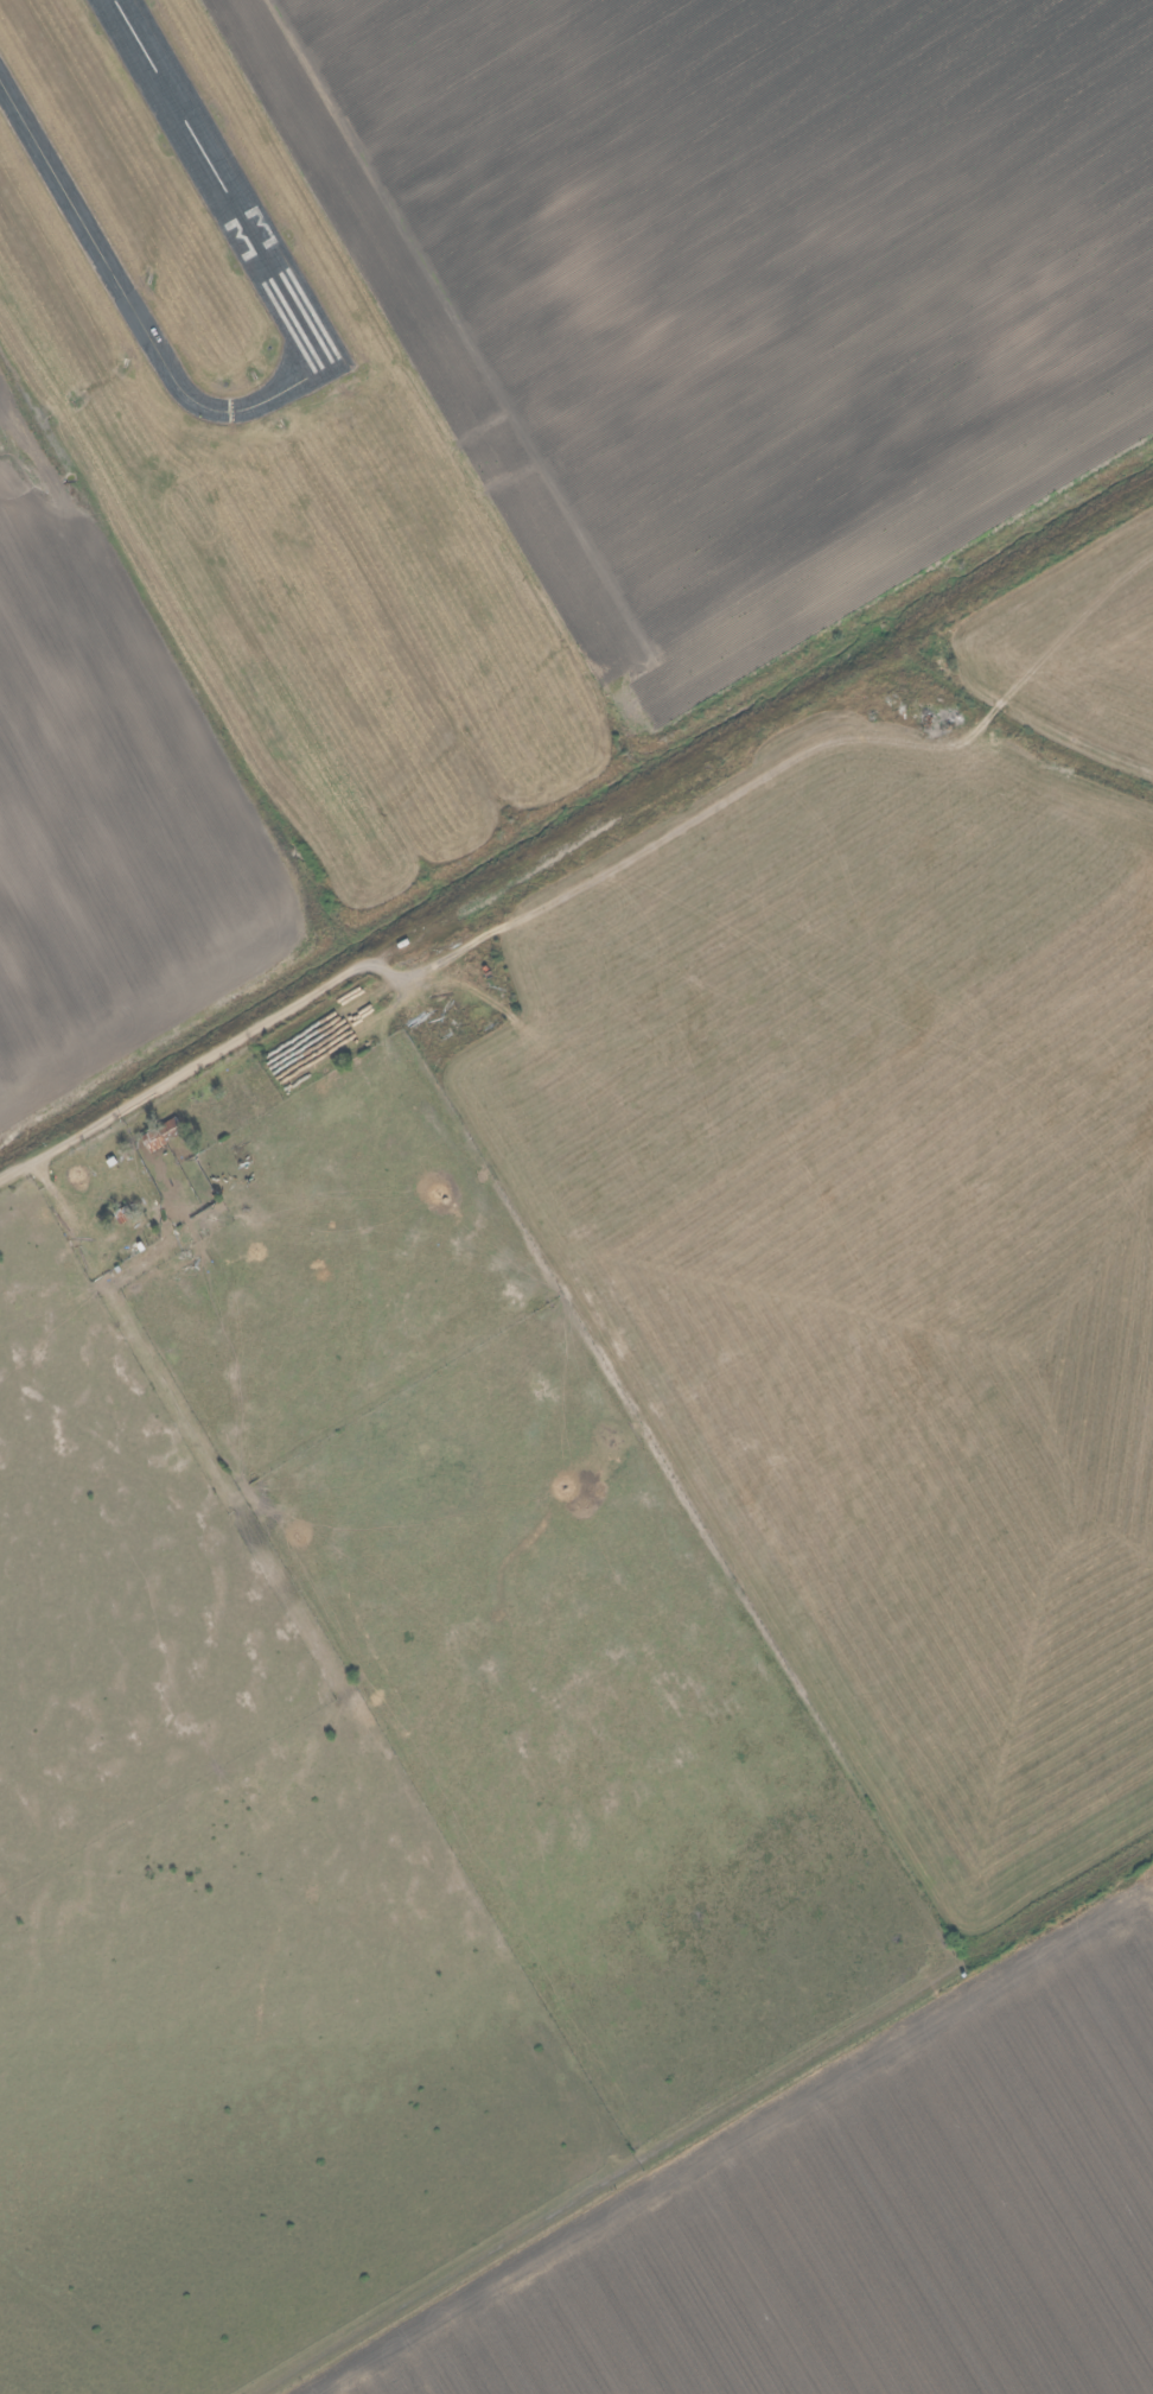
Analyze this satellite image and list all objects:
airport runway: (217, 185)
airport taxiway: (133, 311)
airport: (268, 474)

